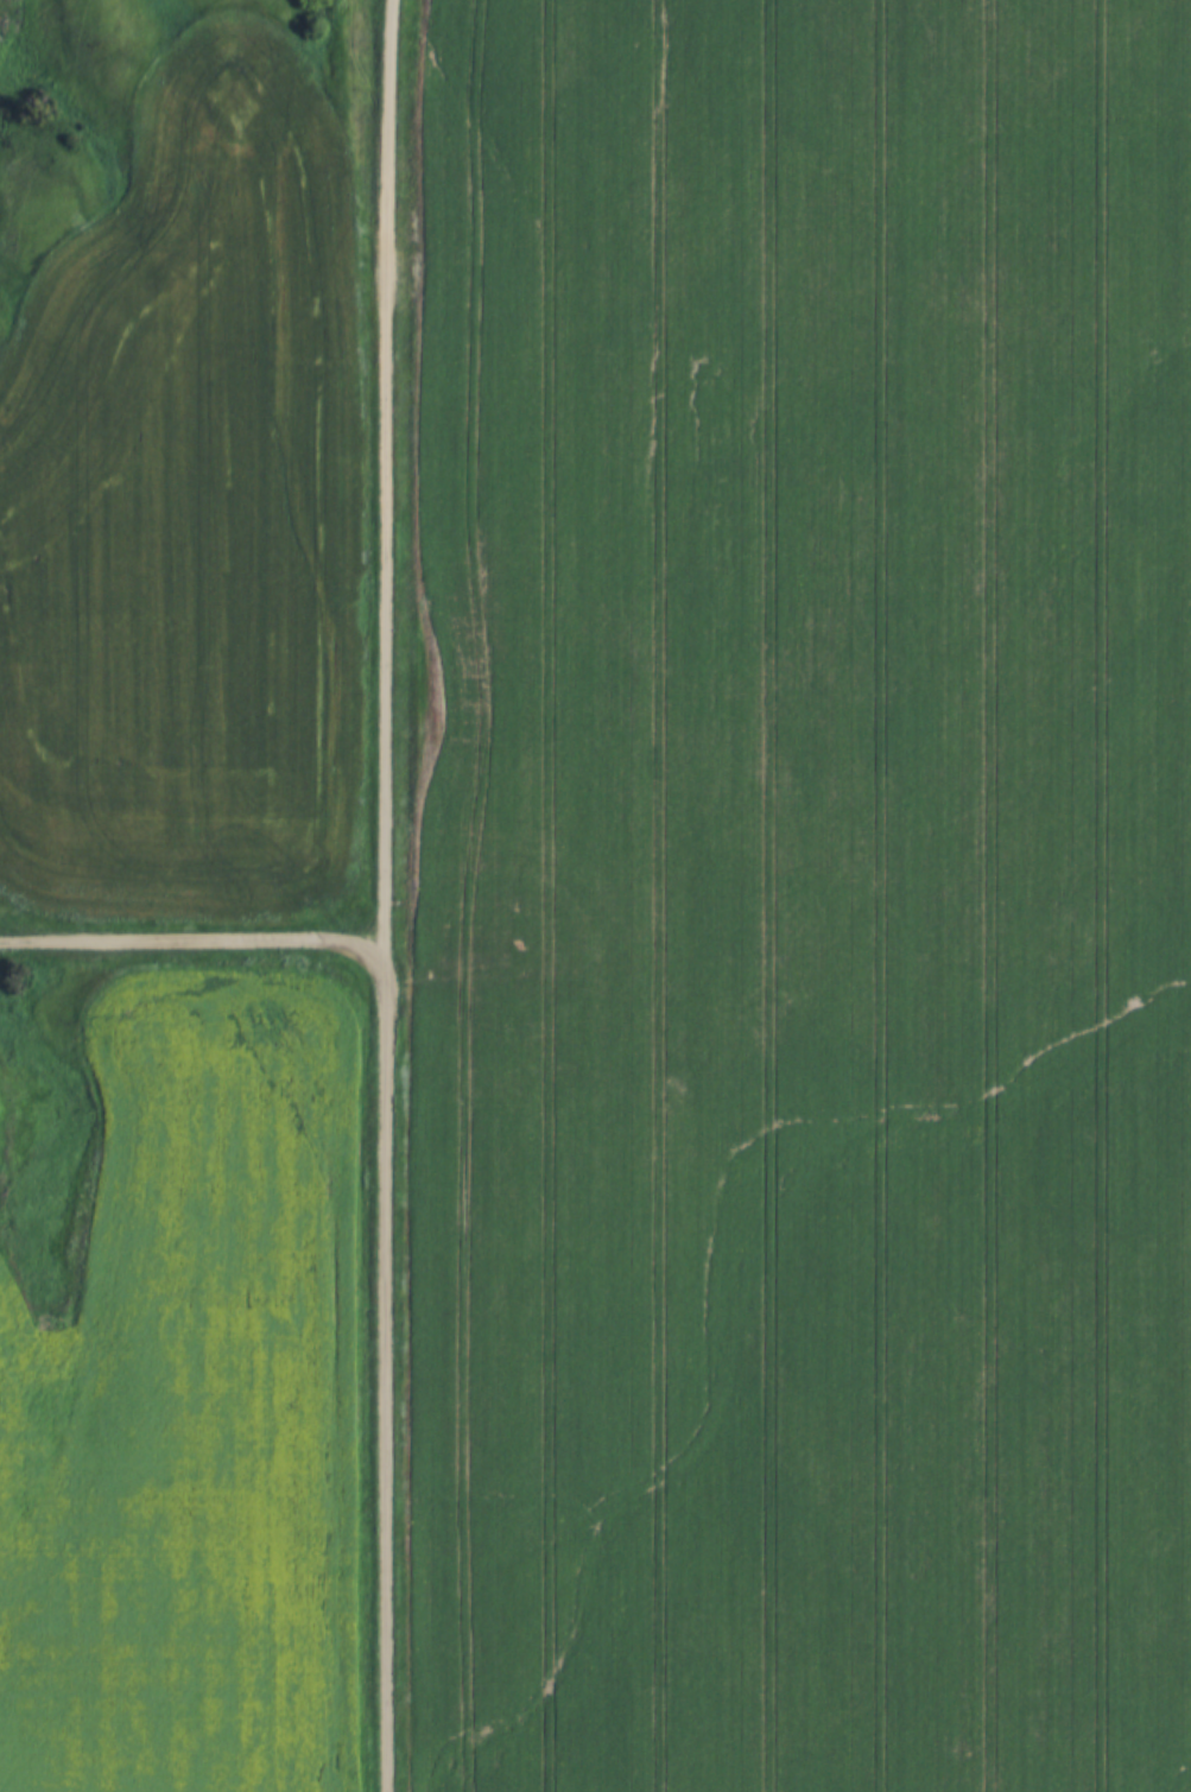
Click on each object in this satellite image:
road: (389, 485)
road: (194, 944)
road: (389, 1380)

